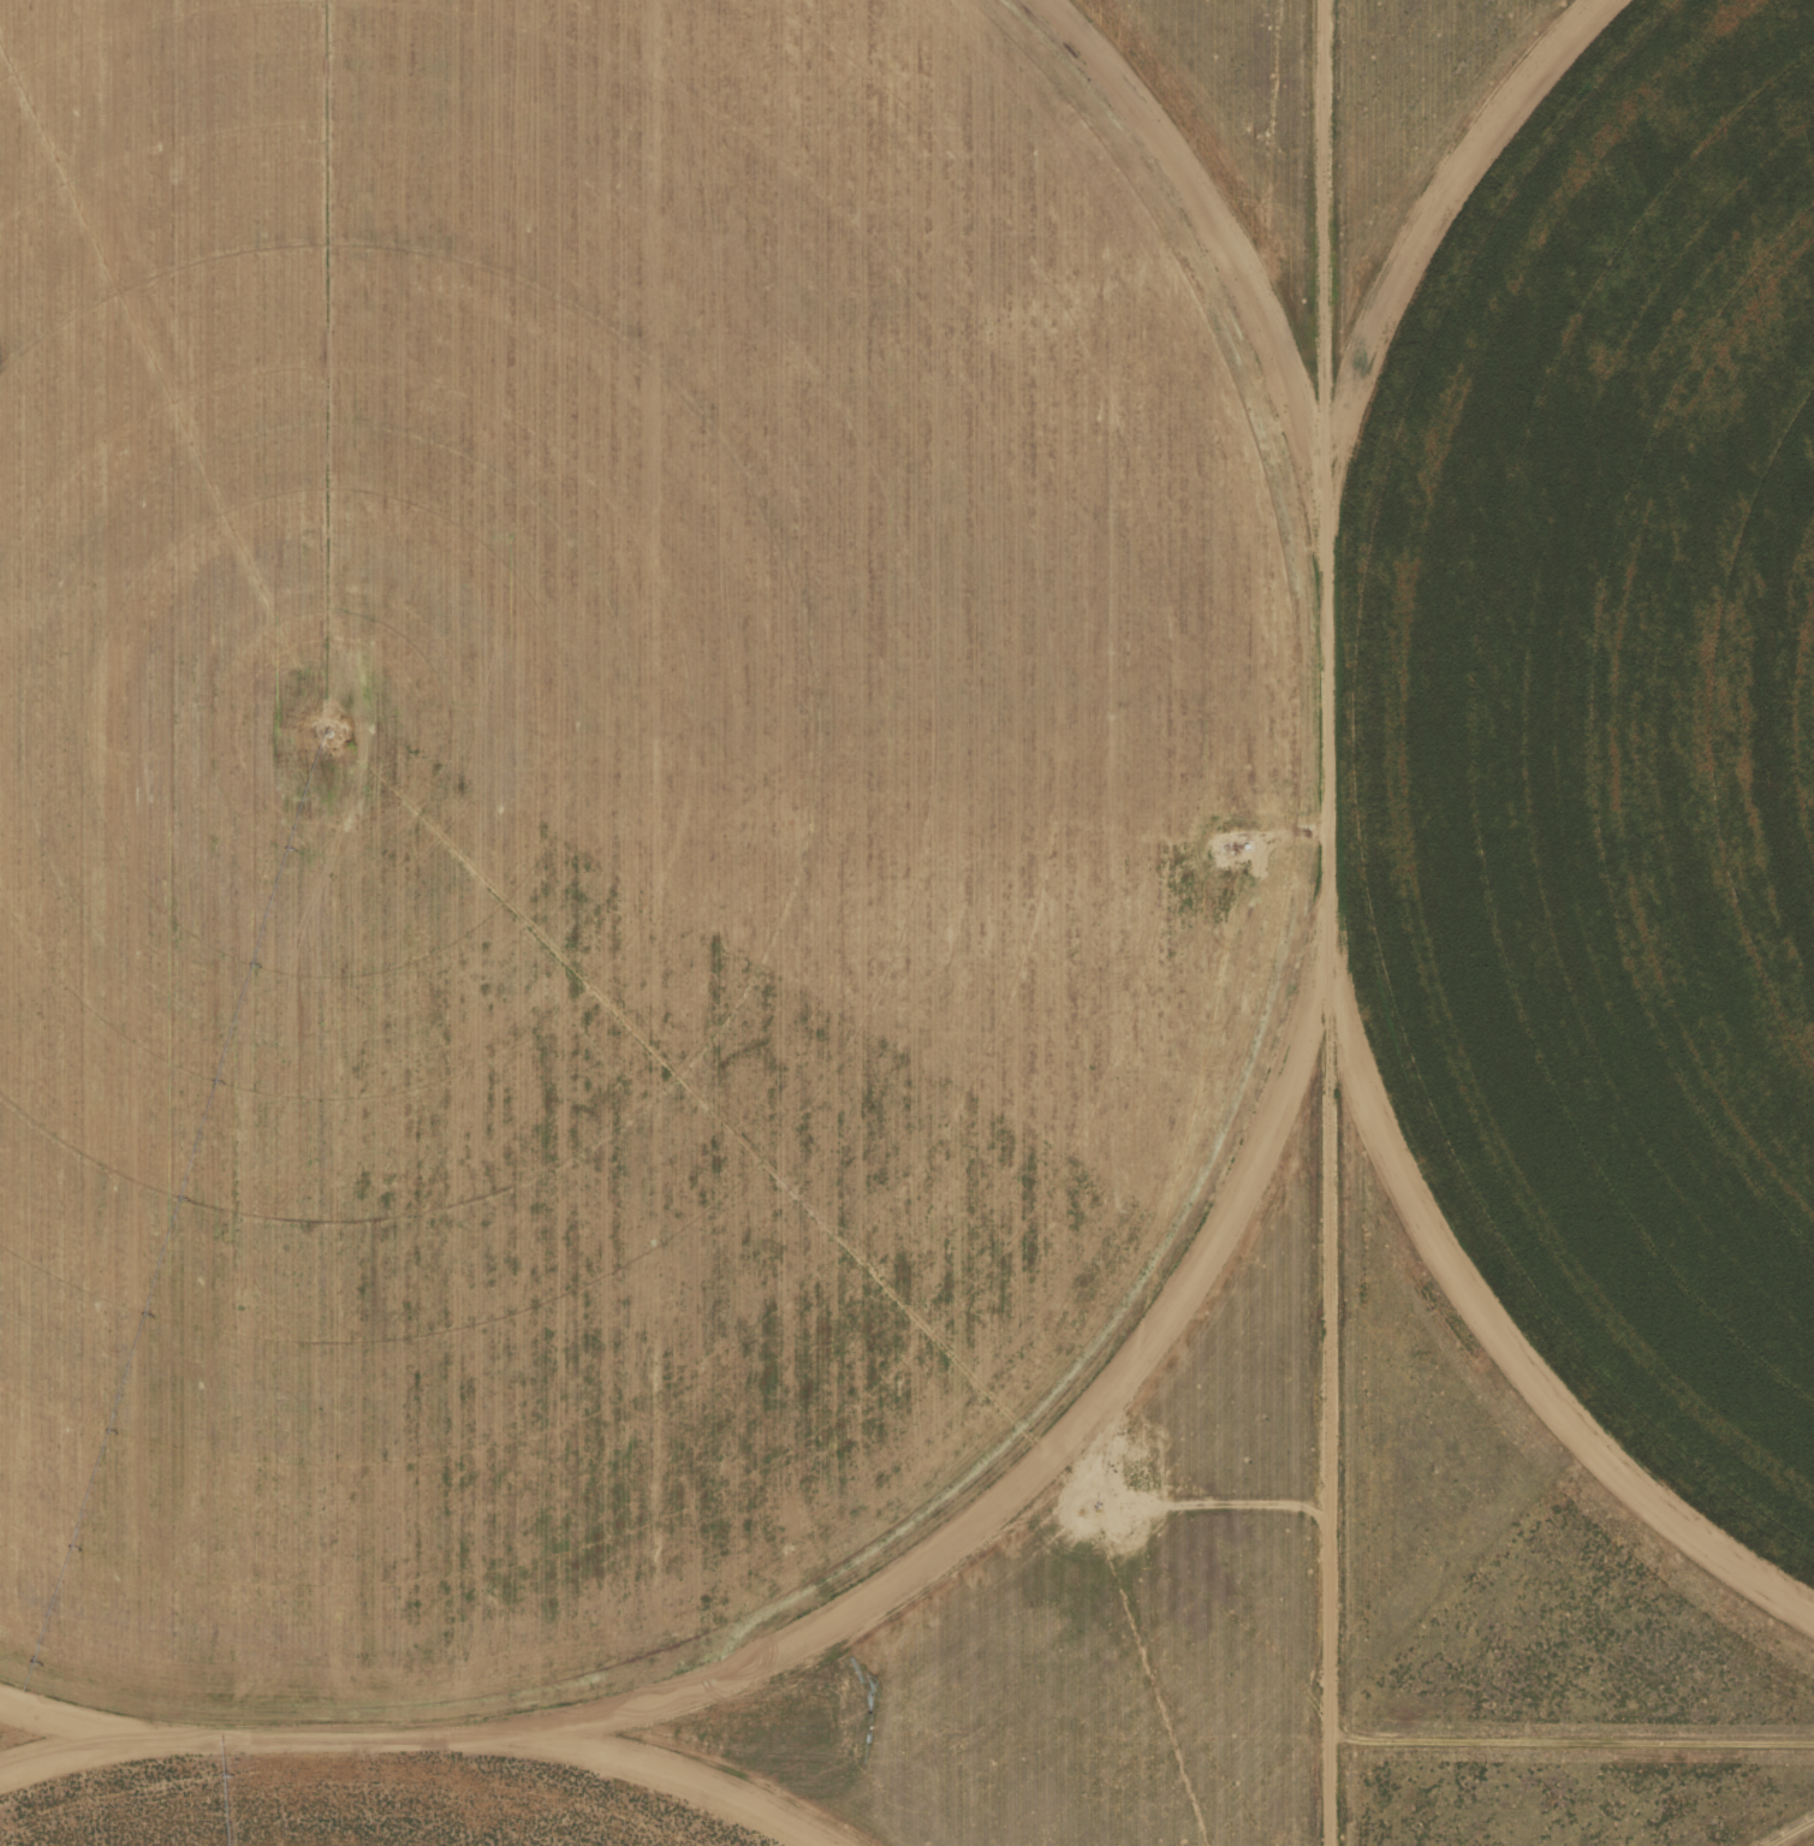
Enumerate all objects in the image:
road: (1596, 1660)

